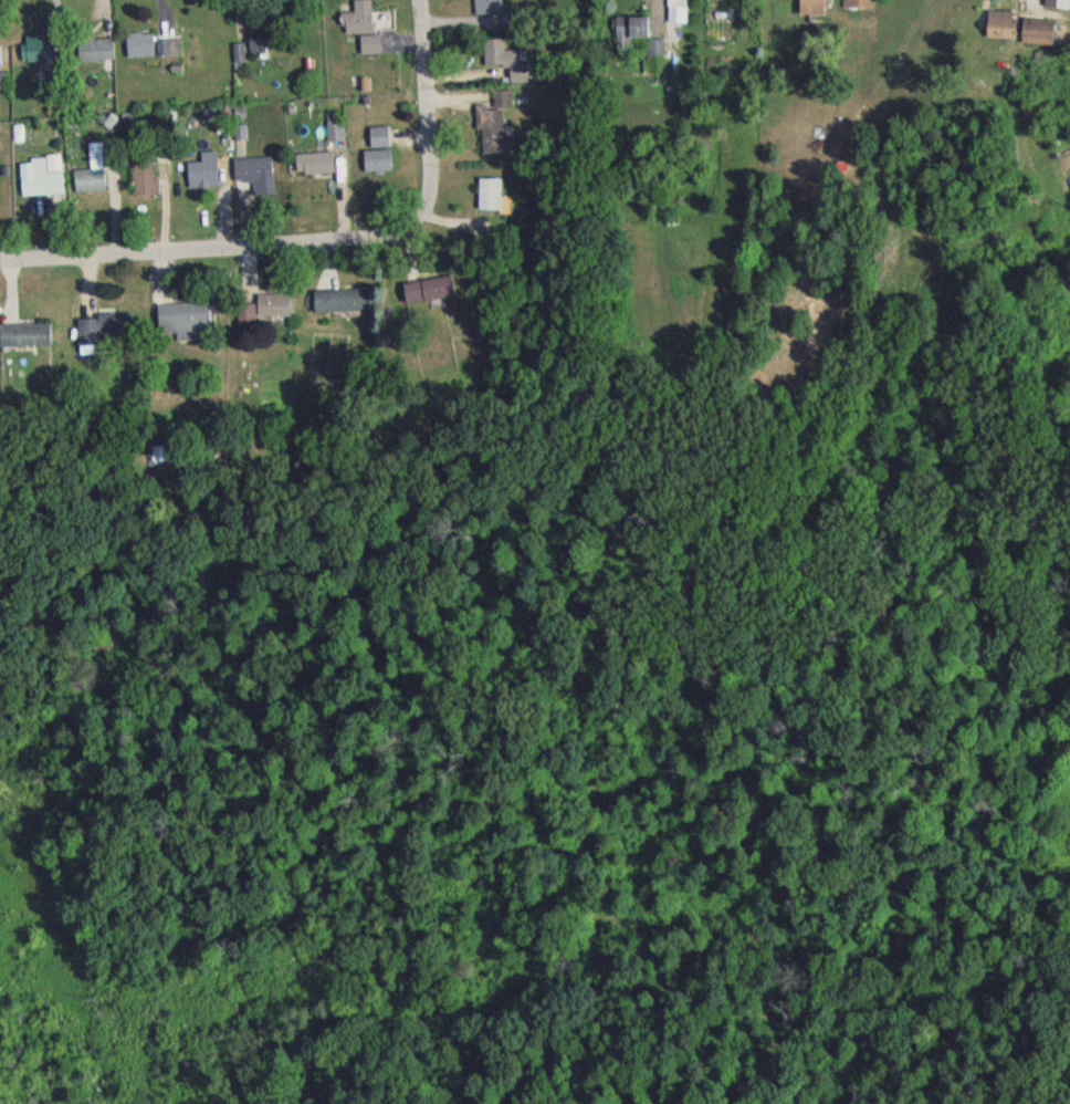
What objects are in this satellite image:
road: (1028, 6)
building: (856, 7)
building: (1053, 7)
building: (485, 10)
building: (810, 11)
building: (673, 12)
building: (359, 31)
building: (1017, 34)
building: (638, 46)
building: (256, 48)
building: (136, 51)
building: (166, 53)
building: (34, 54)
building: (92, 55)
building: (235, 58)
building: (502, 65)
building: (490, 129)
building: (332, 132)
building: (376, 143)
building: (374, 166)
building: (312, 168)
building: (252, 180)
building: (38, 181)
building: (199, 181)
building: (140, 185)
building: (86, 186)
building: (486, 199)
road: (321, 238)
building: (424, 294)
building: (336, 305)
building: (269, 311)
building: (242, 320)
building: (185, 326)
building: (103, 334)
building: (23, 341)
building: (168, 460)

